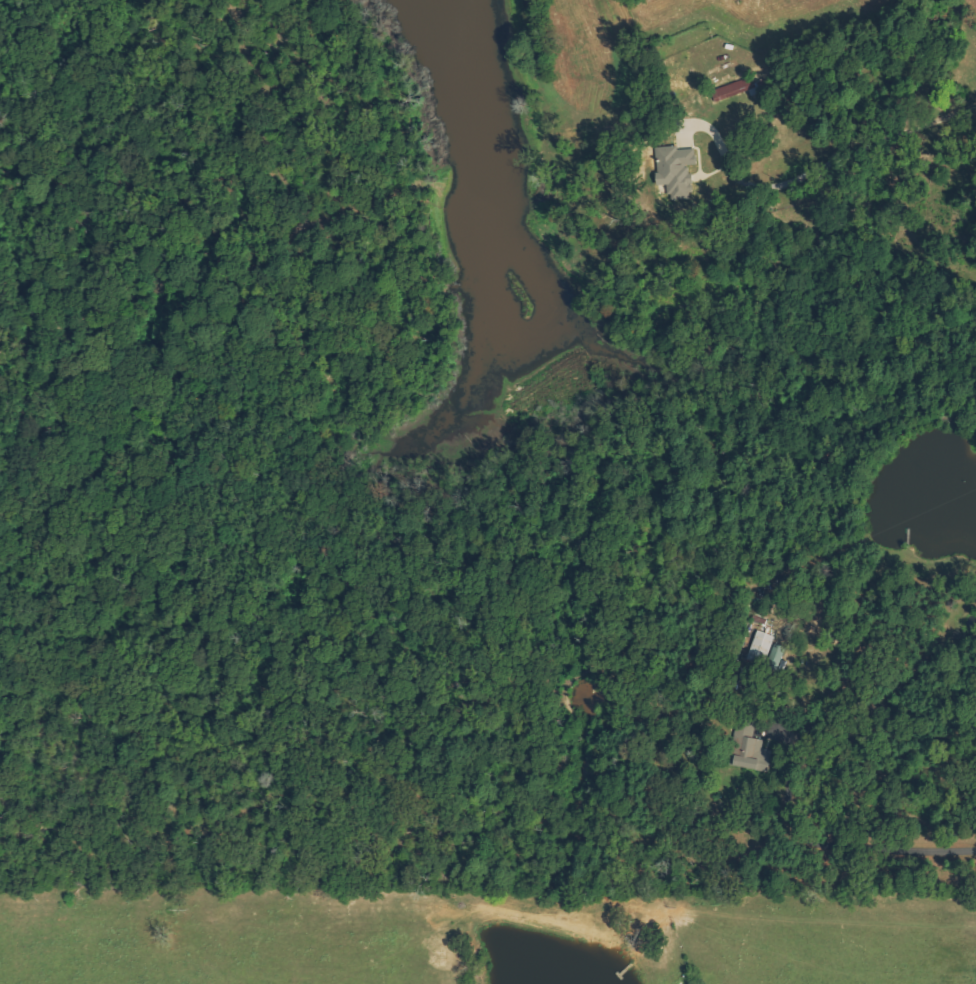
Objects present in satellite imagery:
building: (735, 88)
building: (678, 170)
road: (789, 295)
building: (762, 647)
building: (752, 749)
road: (849, 977)

